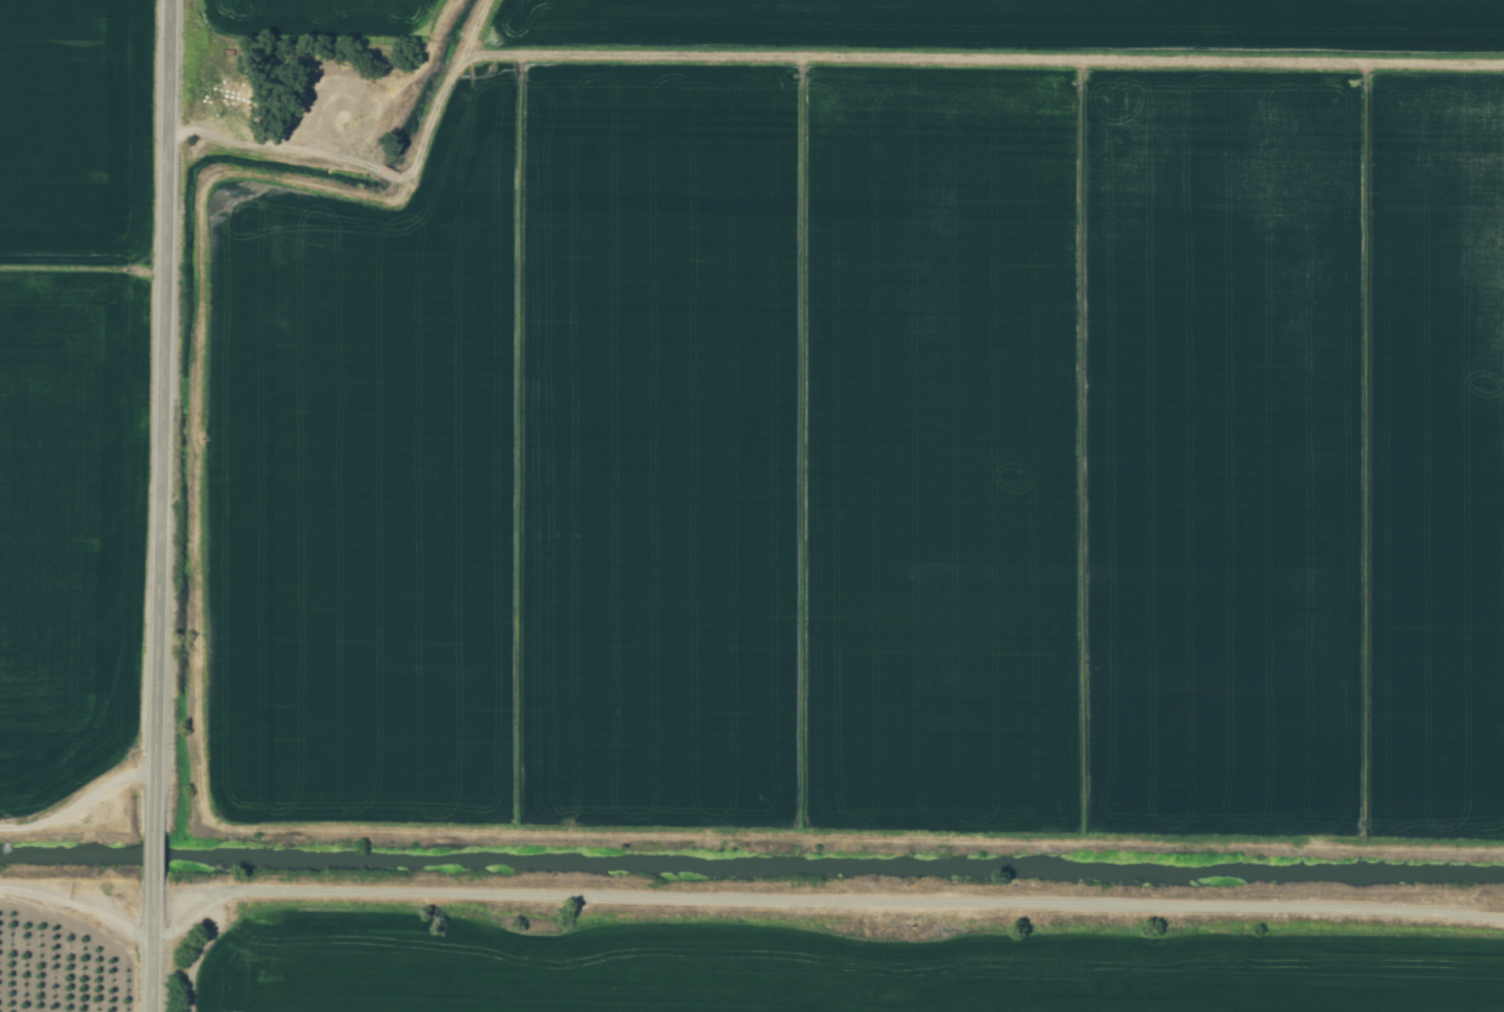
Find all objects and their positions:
road: (162, 416)
road: (156, 861)
road: (826, 900)
road: (80, 903)
road: (154, 950)

